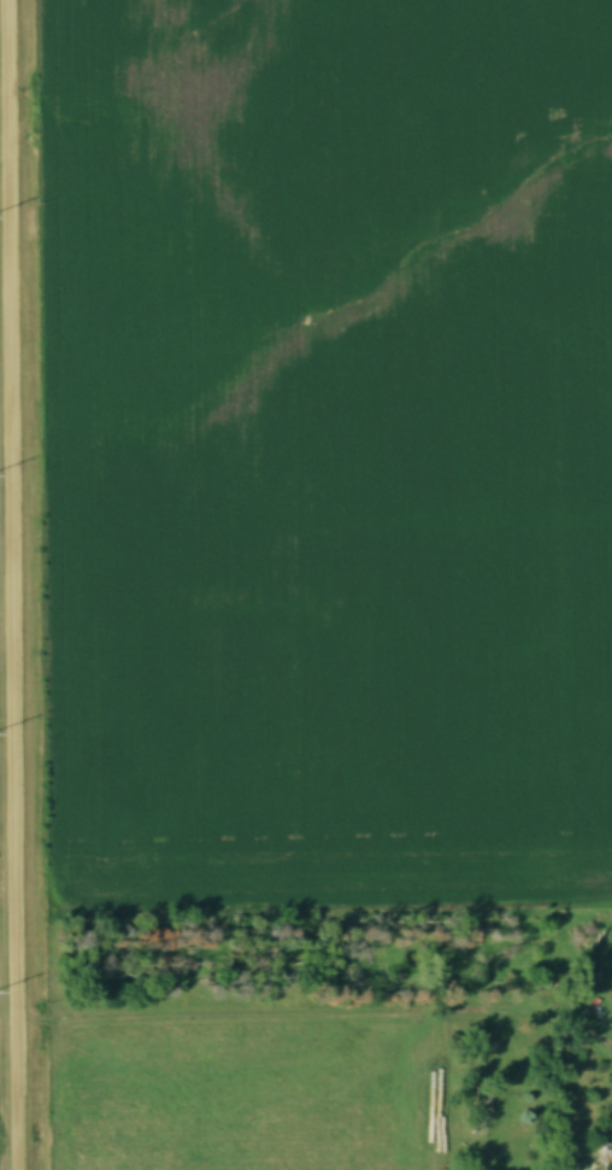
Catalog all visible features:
road: (10, 585)
building: (607, 1154)

